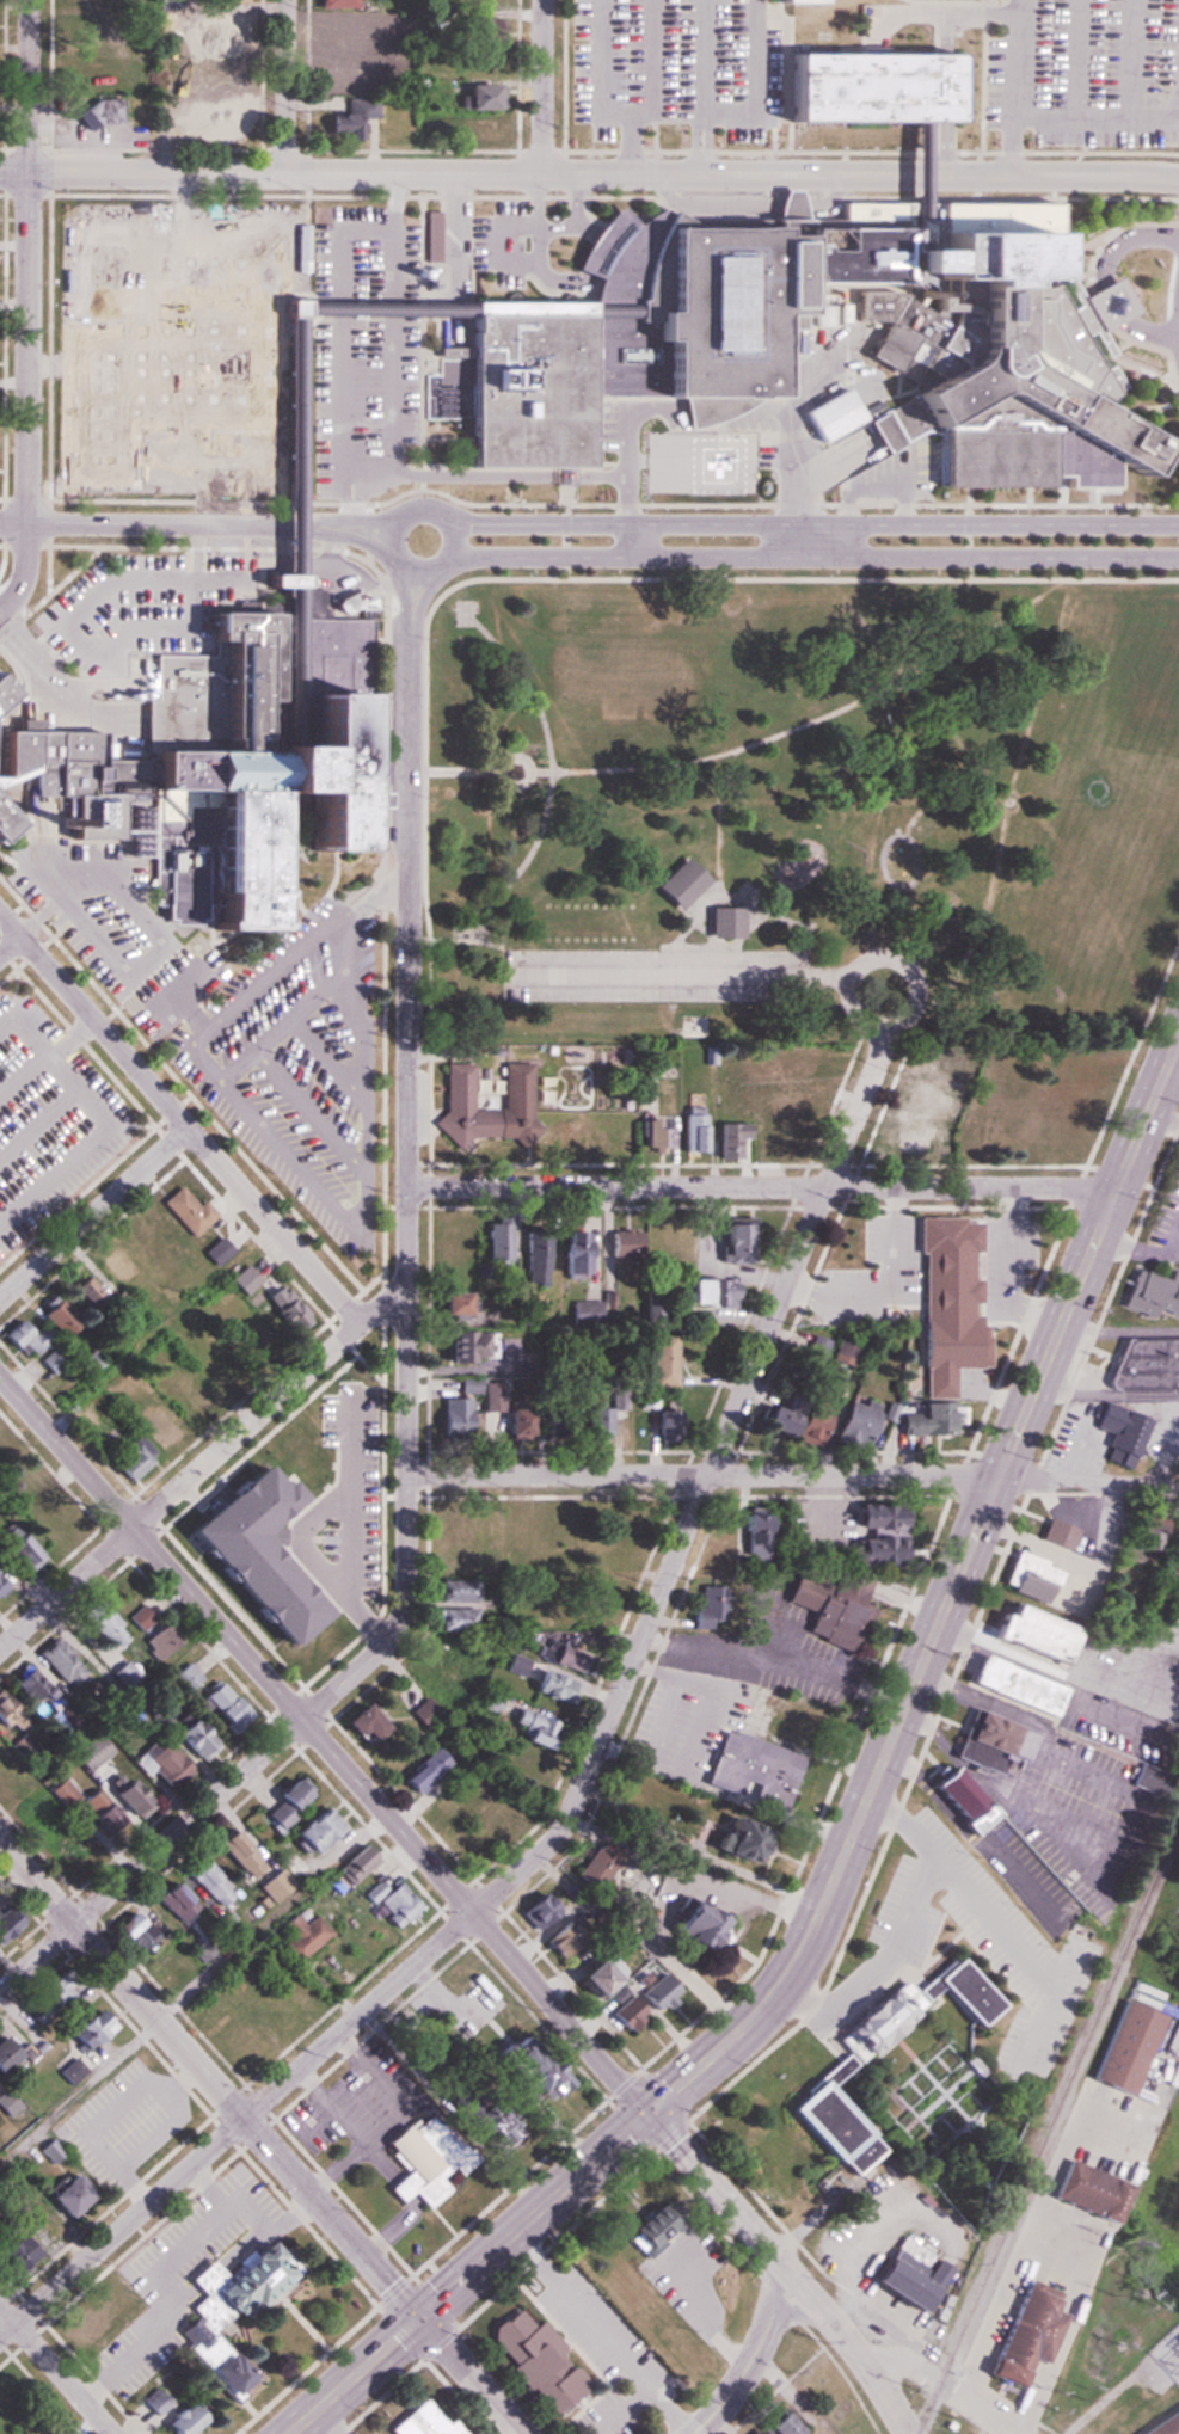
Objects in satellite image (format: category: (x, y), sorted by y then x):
building: (78, 0)
building: (228, 0)
building: (481, 2)
building: (334, 4)
road: (806, 11)
road: (803, 23)
building: (223, 25)
building: (79, 27)
building: (479, 27)
building: (338, 29)
parking lot: (739, 60)
road: (1077, 60)
road: (1132, 60)
building: (475, 61)
parking lot: (627, 66)
parking lot: (1088, 70)
building: (229, 78)
building: (339, 80)
building: (75, 81)
road: (755, 82)
building: (878, 86)
road: (287, 87)
road: (541, 87)
road: (701, 87)
road: (1013, 87)
building: (473, 96)
road: (627, 111)
building: (98, 115)
road: (1098, 119)
building: (346, 121)
building: (217, 122)
building: (418, 124)
building: (472, 130)
road: (632, 143)
road: (452, 176)
building: (911, 176)
road: (911, 176)
road: (911, 177)
road: (1049, 177)
building: (430, 238)
road: (1126, 239)
parking lot: (512, 244)
building: (738, 290)
road: (1112, 300)
road: (30, 307)
building: (290, 308)
road: (290, 308)
road: (386, 308)
road: (558, 309)
building: (616, 309)
road: (1148, 333)
building: (1001, 343)
parking lot: (366, 345)
parking lot: (173, 348)
road: (142, 349)
road: (59, 365)
road: (201, 379)
building: (532, 385)
road: (710, 408)
airport hangar: (834, 413)
building: (834, 413)
road: (790, 428)
road: (626, 437)
road: (290, 445)
helipad: (701, 462)
helipad: (718, 465)
road: (827, 465)
road: (258, 467)
road: (391, 469)
road: (480, 477)
road: (363, 480)
road: (342, 492)
road: (436, 511)
road: (351, 521)
road: (176, 524)
road: (812, 524)
road: (371, 527)
road: (192, 551)
road: (815, 558)
road: (406, 571)
building: (287, 582)
road: (291, 590)
building: (290, 596)
road: (412, 601)
parking lot: (137, 609)
road: (70, 629)
road: (964, 645)
building: (4, 694)
road: (960, 738)
building: (226, 743)
road: (553, 779)
road: (939, 799)
park: (805, 804)
road: (720, 811)
building: (6, 820)
road: (74, 865)
road: (373, 884)
building: (678, 884)
road: (917, 908)
parking lot: (94, 912)
road: (39, 917)
building: (721, 922)
road: (10, 944)
road: (178, 1000)
road: (274, 1035)
road: (72, 1039)
parking lot: (284, 1055)
road: (328, 1062)
building: (793, 1062)
road: (22, 1071)
building: (515, 1086)
building: (743, 1093)
building: (917, 1095)
building: (785, 1104)
road: (312, 1113)
building: (999, 1117)
road: (1165, 1117)
parking lot: (47, 1119)
road: (105, 1121)
road: (38, 1123)
building: (609, 1129)
building: (693, 1129)
building: (651, 1132)
building: (911, 1136)
building: (730, 1139)
road: (201, 1143)
road: (763, 1186)
road: (331, 1209)
building: (186, 1211)
road: (94, 1212)
road: (1161, 1216)
building: (848, 1240)
building: (995, 1240)
building: (496, 1241)
building: (898, 1241)
building: (638, 1243)
building: (216, 1252)
building: (535, 1255)
building: (570, 1255)
building: (242, 1279)
building: (693, 1291)
building: (719, 1291)
building: (1152, 1293)
building: (449, 1302)
building: (284, 1308)
building: (846, 1309)
building: (582, 1313)
building: (55, 1315)
building: (652, 1317)
building: (22, 1338)
building: (946, 1342)
building: (469, 1345)
building: (842, 1350)
building: (53, 1360)
building: (661, 1360)
building: (1141, 1367)
road: (406, 1397)
building: (338, 1401)
building: (196, 1402)
building: (454, 1416)
building: (769, 1419)
building: (931, 1419)
building: (664, 1421)
building: (590, 1422)
building: (851, 1424)
building: (804, 1425)
building: (1117, 1433)
building: (290, 1450)
building: (2, 1452)
building: (349, 1459)
building: (128, 1461)
road: (204, 1465)
building: (466, 1467)
road: (793, 1476)
building: (450, 1523)
building: (53, 1524)
building: (549, 1531)
building: (511, 1532)
building: (873, 1532)
building: (1143, 1532)
building: (754, 1533)
building: (1056, 1533)
building: (718, 1544)
building: (19, 1545)
building: (221, 1545)
building: (1028, 1578)
building: (0, 1585)
building: (455, 1591)
building: (603, 1606)
building: (708, 1608)
building: (827, 1610)
building: (455, 1619)
building: (102, 1623)
building: (149, 1630)
building: (1030, 1633)
building: (561, 1659)
building: (59, 1662)
building: (515, 1665)
building: (441, 1674)
building: (185, 1678)
building: (1014, 1685)
building: (30, 1686)
building: (549, 1686)
building: (490, 1701)
building: (220, 1704)
building: (6, 1710)
building: (422, 1714)
building: (356, 1722)
building: (533, 1728)
building: (189, 1738)
road: (597, 1744)
building: (990, 1744)
building: (520, 1760)
building: (162, 1764)
building: (750, 1771)
building: (422, 1772)
building: (12, 1785)
building: (62, 1794)
building: (125, 1794)
building: (448, 1797)
building: (956, 1799)
building: (285, 1802)
building: (100, 1811)
road: (856, 1820)
building: (480, 1828)
building: (313, 1830)
building: (733, 1840)
building: (239, 1854)
building: (355, 1866)
building: (594, 1868)
building: (209, 1881)
building: (274, 1885)
building: (383, 1898)
building: (176, 1900)
road: (462, 1900)
building: (534, 1910)
building: (231, 1924)
building: (687, 1926)
building: (133, 1931)
building: (300, 1936)
building: (614, 1940)
building: (166, 1963)
building: (589, 1974)
building: (47, 1992)
building: (657, 1993)
building: (625, 2015)
building: (88, 2029)
building: (238, 2046)
building: (1124, 2047)
building: (5, 2053)
building: (824, 2067)
building: (522, 2071)
building: (480, 2123)
railway: (1049, 2126)
road: (258, 2140)
building: (417, 2161)
building: (1087, 2192)
building: (63, 2195)
building: (646, 2225)
building: (12, 2251)
building: (904, 2274)
building: (610, 2279)
building: (234, 2282)
building: (79, 2323)
building: (1025, 2332)
building: (210, 2356)
road: (751, 2358)
building: (535, 2362)
road: (55, 2370)
road: (929, 2377)
building: (152, 2402)
building: (178, 2420)
building: (420, 2420)
building: (1165, 2424)
building: (774, 2426)
building: (751, 2432)

